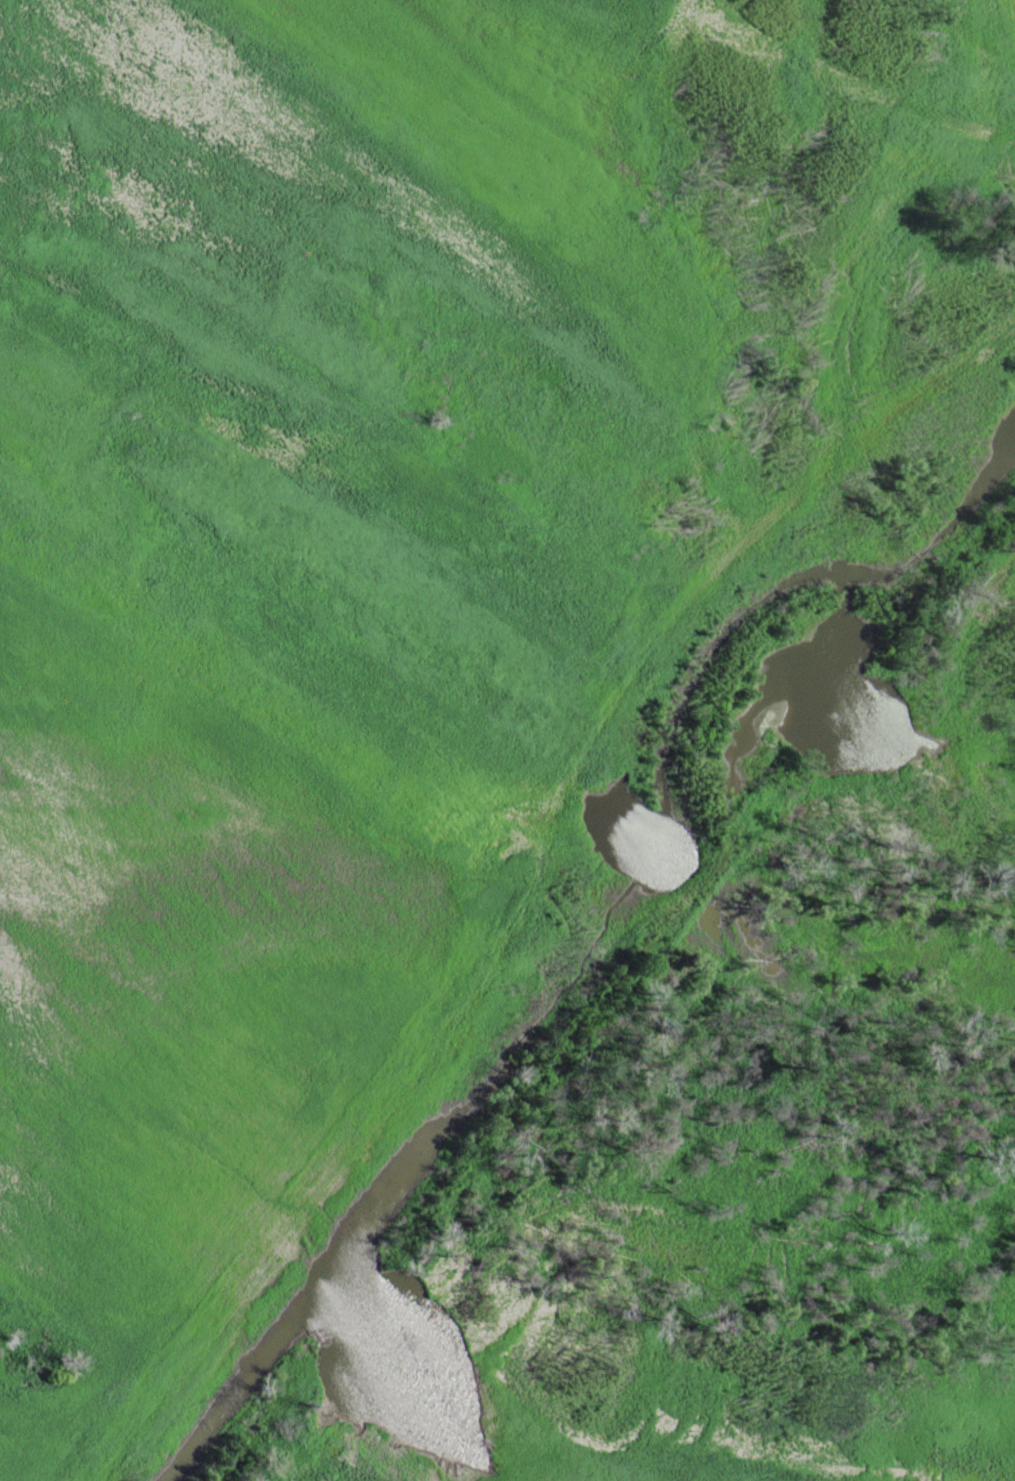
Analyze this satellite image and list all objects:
road: (946, 688)
road: (608, 1335)

